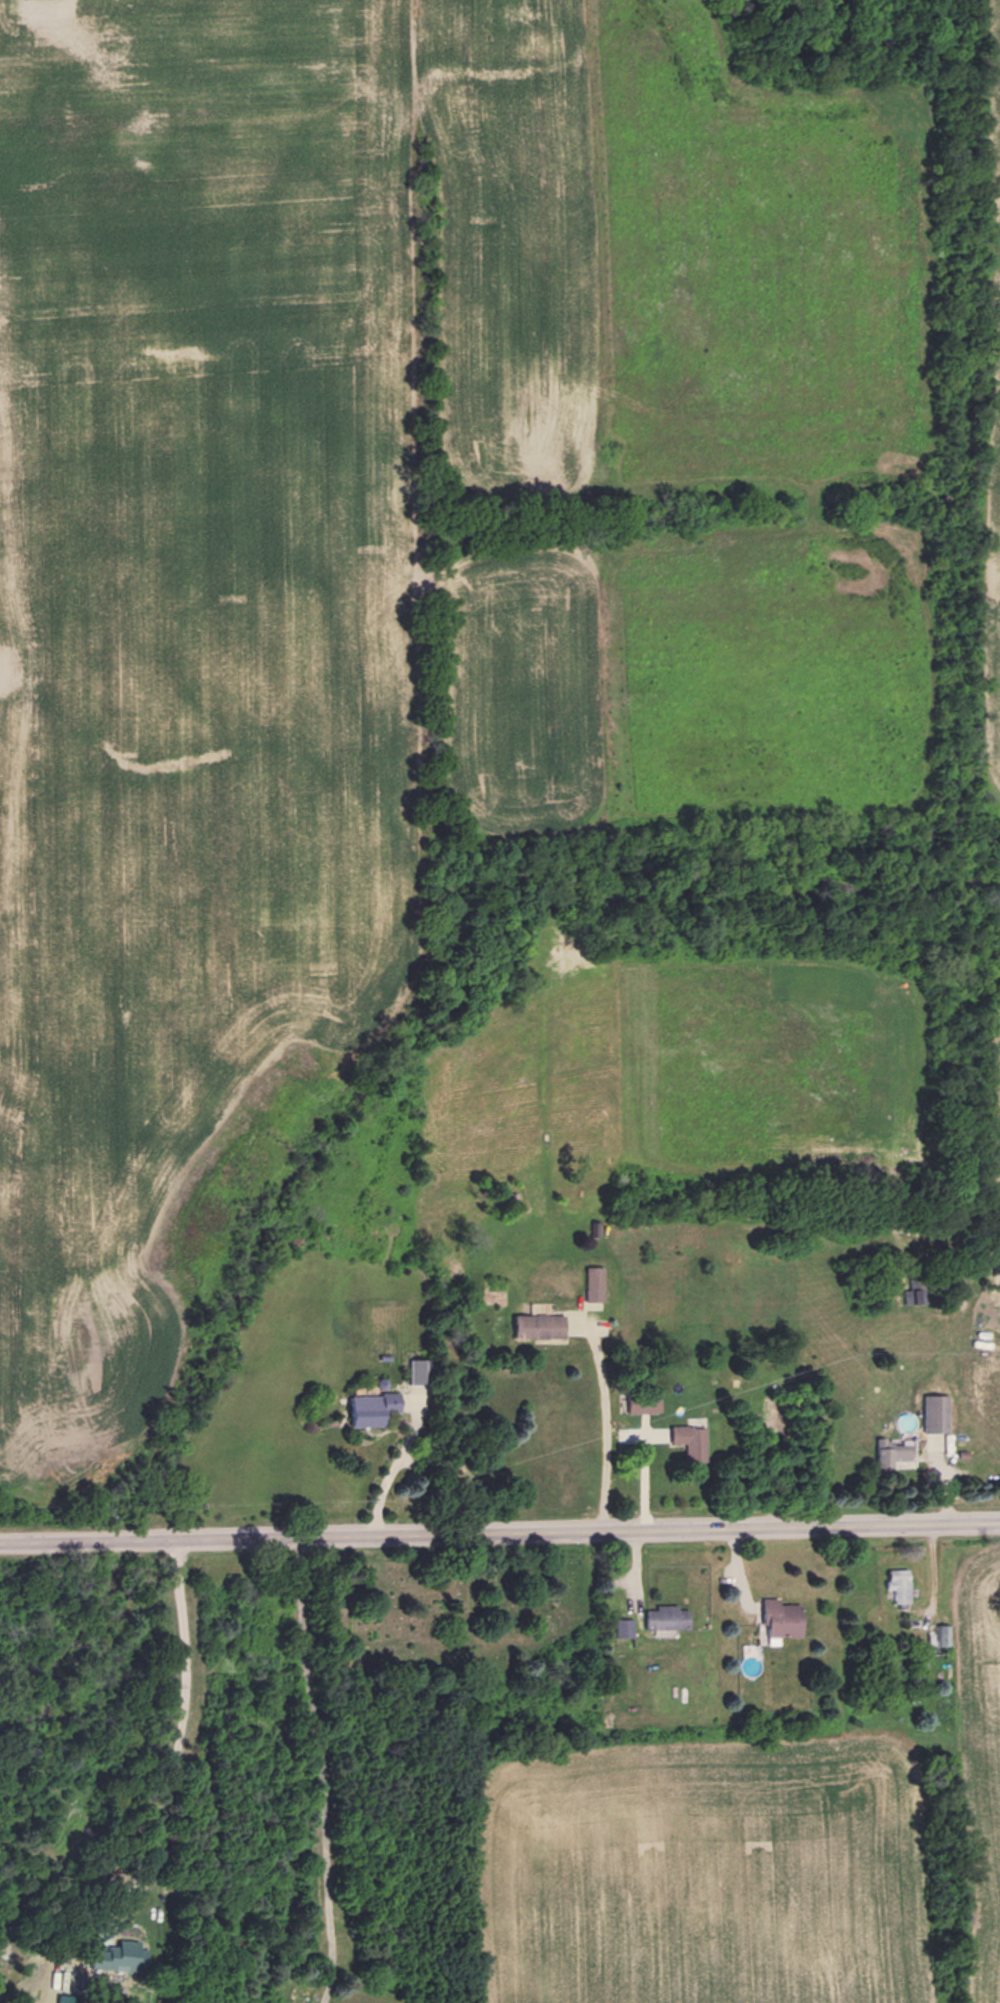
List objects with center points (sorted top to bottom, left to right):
building: (593, 1229)
building: (592, 1289)
building: (913, 1293)
road: (580, 1324)
building: (536, 1326)
building: (384, 1358)
building: (984, 1371)
building: (418, 1373)
building: (641, 1401)
building: (370, 1408)
building: (933, 1414)
road: (605, 1421)
road: (654, 1435)
building: (689, 1443)
building: (962, 1443)
building: (887, 1454)
building: (961, 1455)
road: (394, 1464)
road: (644, 1472)
road: (945, 1487)
road: (499, 1530)
road: (736, 1567)
road: (933, 1573)
road: (636, 1585)
building: (897, 1585)
park: (460, 1618)
building: (664, 1618)
building: (775, 1622)
building: (621, 1628)
building: (663, 1635)
building: (942, 1636)
building: (890, 1671)
building: (601, 1690)
road: (181, 1737)
road: (323, 1769)
building: (119, 1960)
building: (63, 1998)

